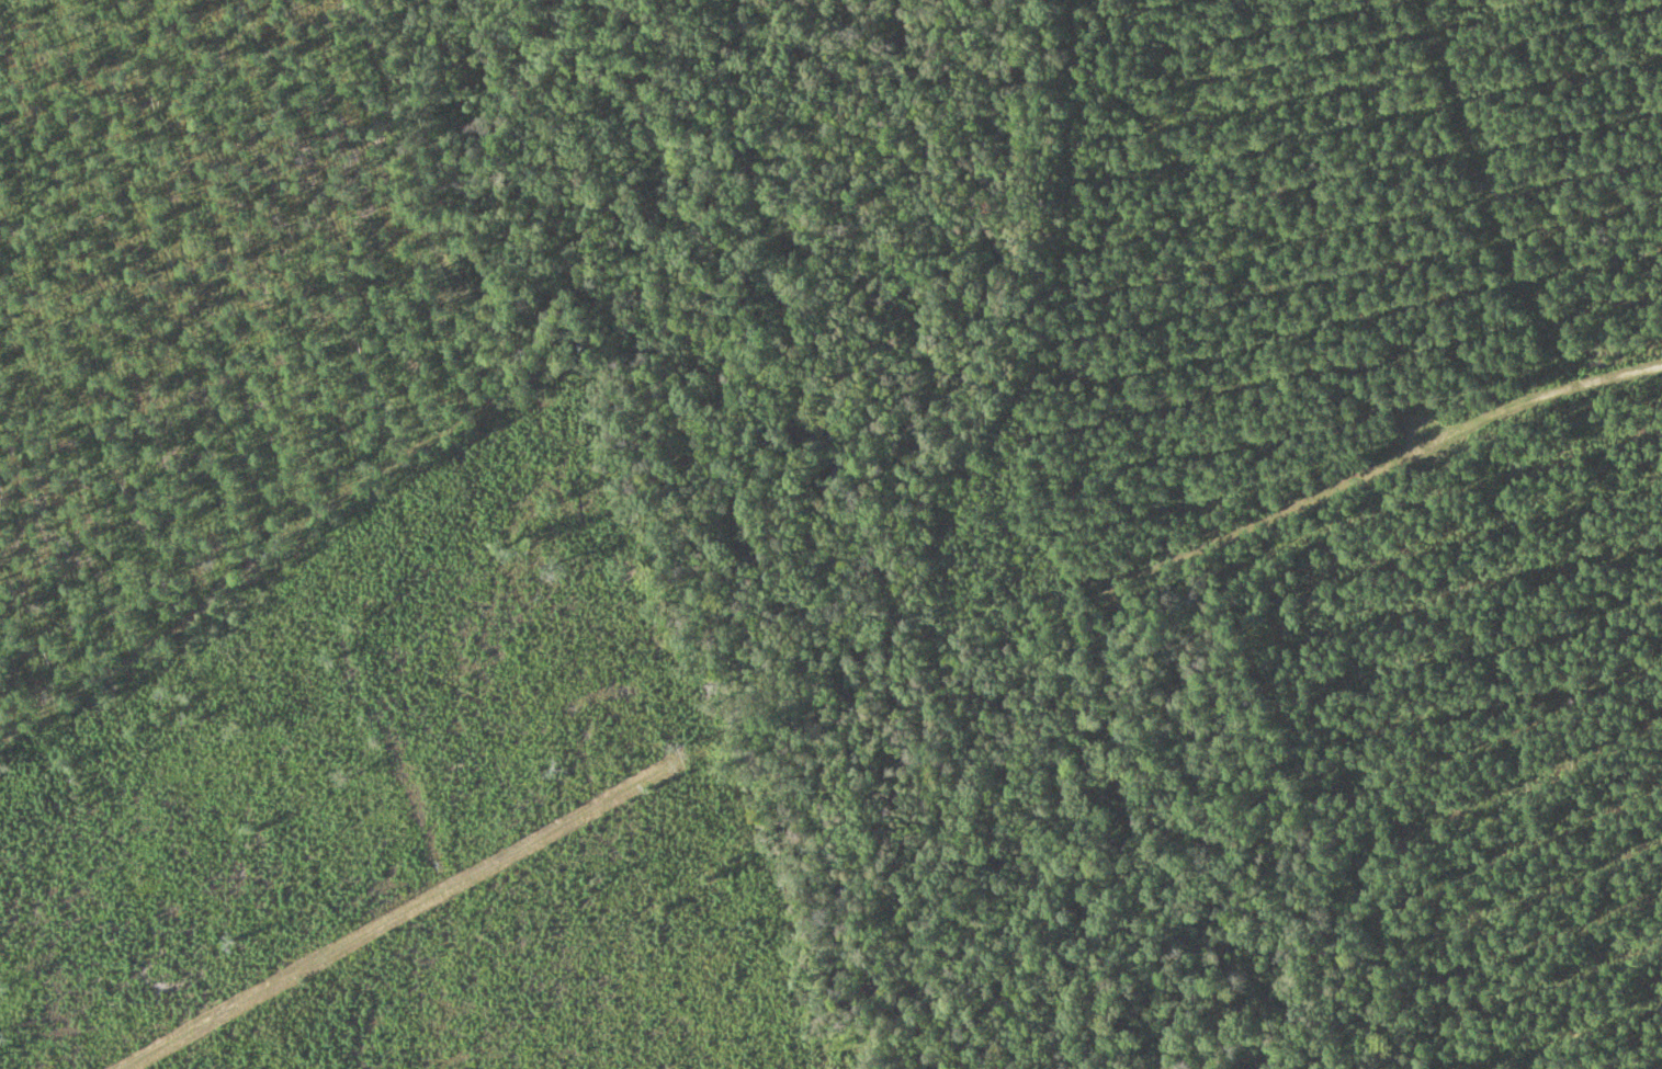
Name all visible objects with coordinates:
road: (885, 673)

